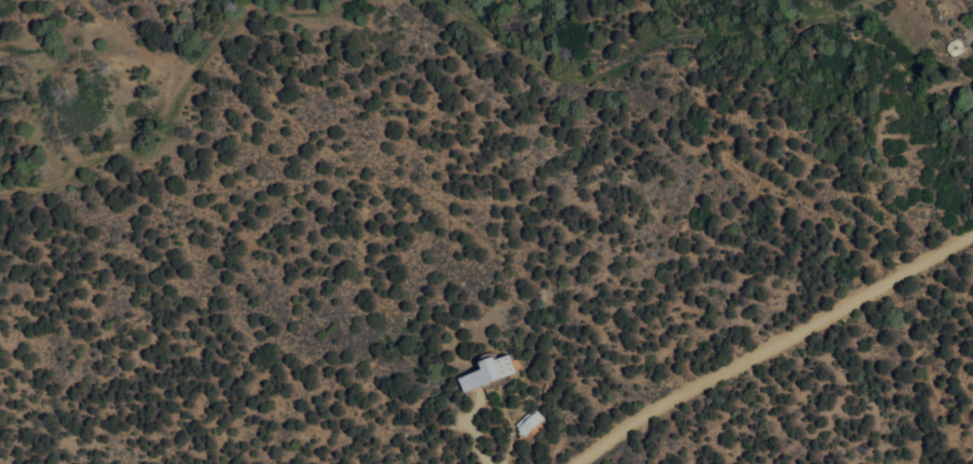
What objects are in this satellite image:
building: (497, 371)
building: (532, 420)

